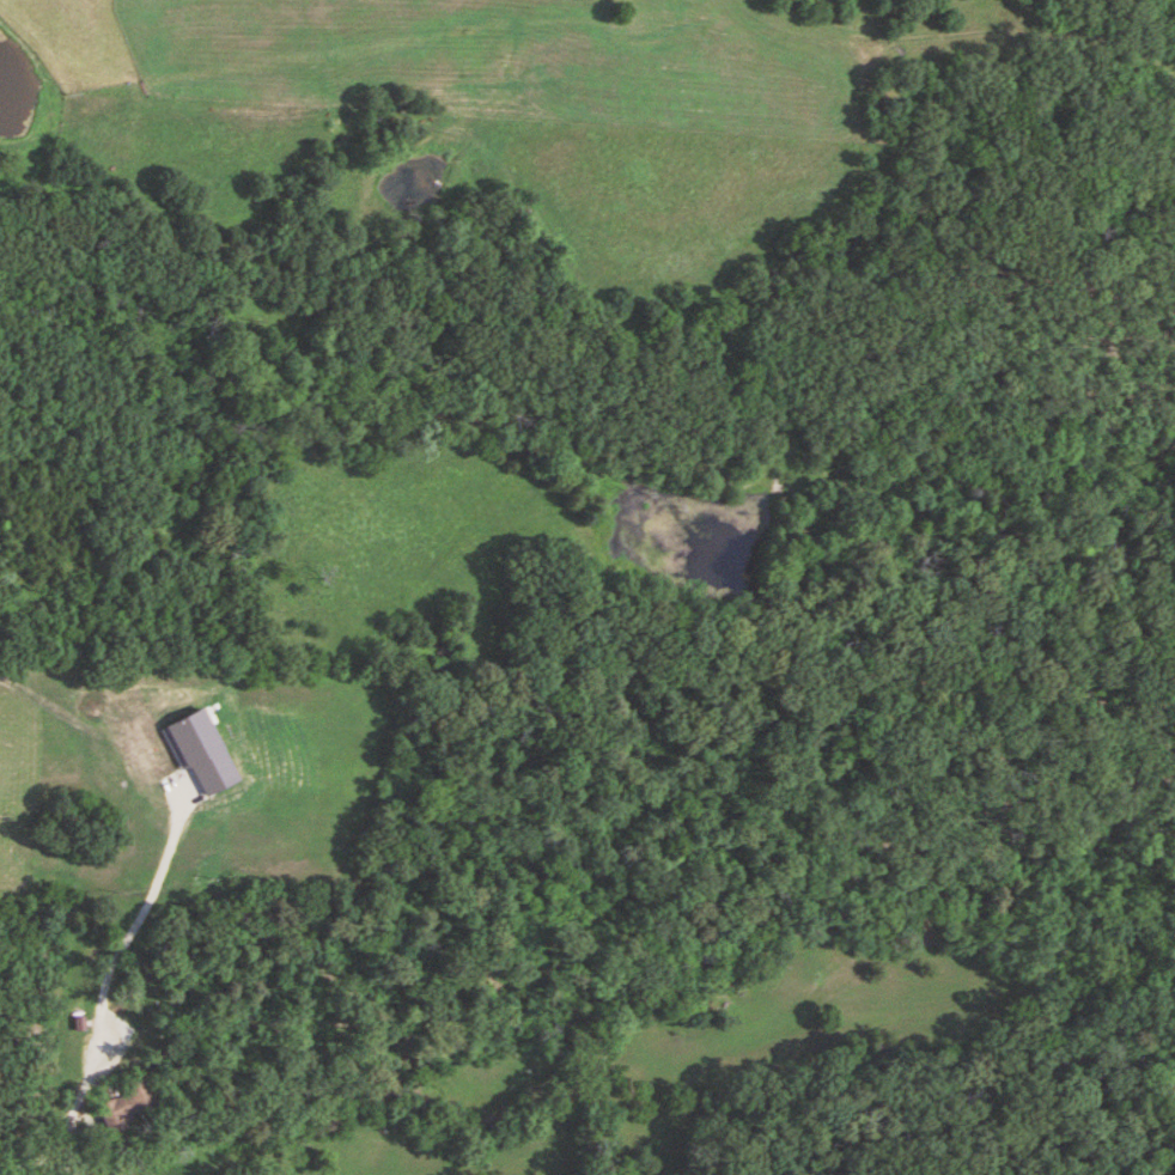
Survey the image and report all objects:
road: (156, 601)
road: (62, 1126)

